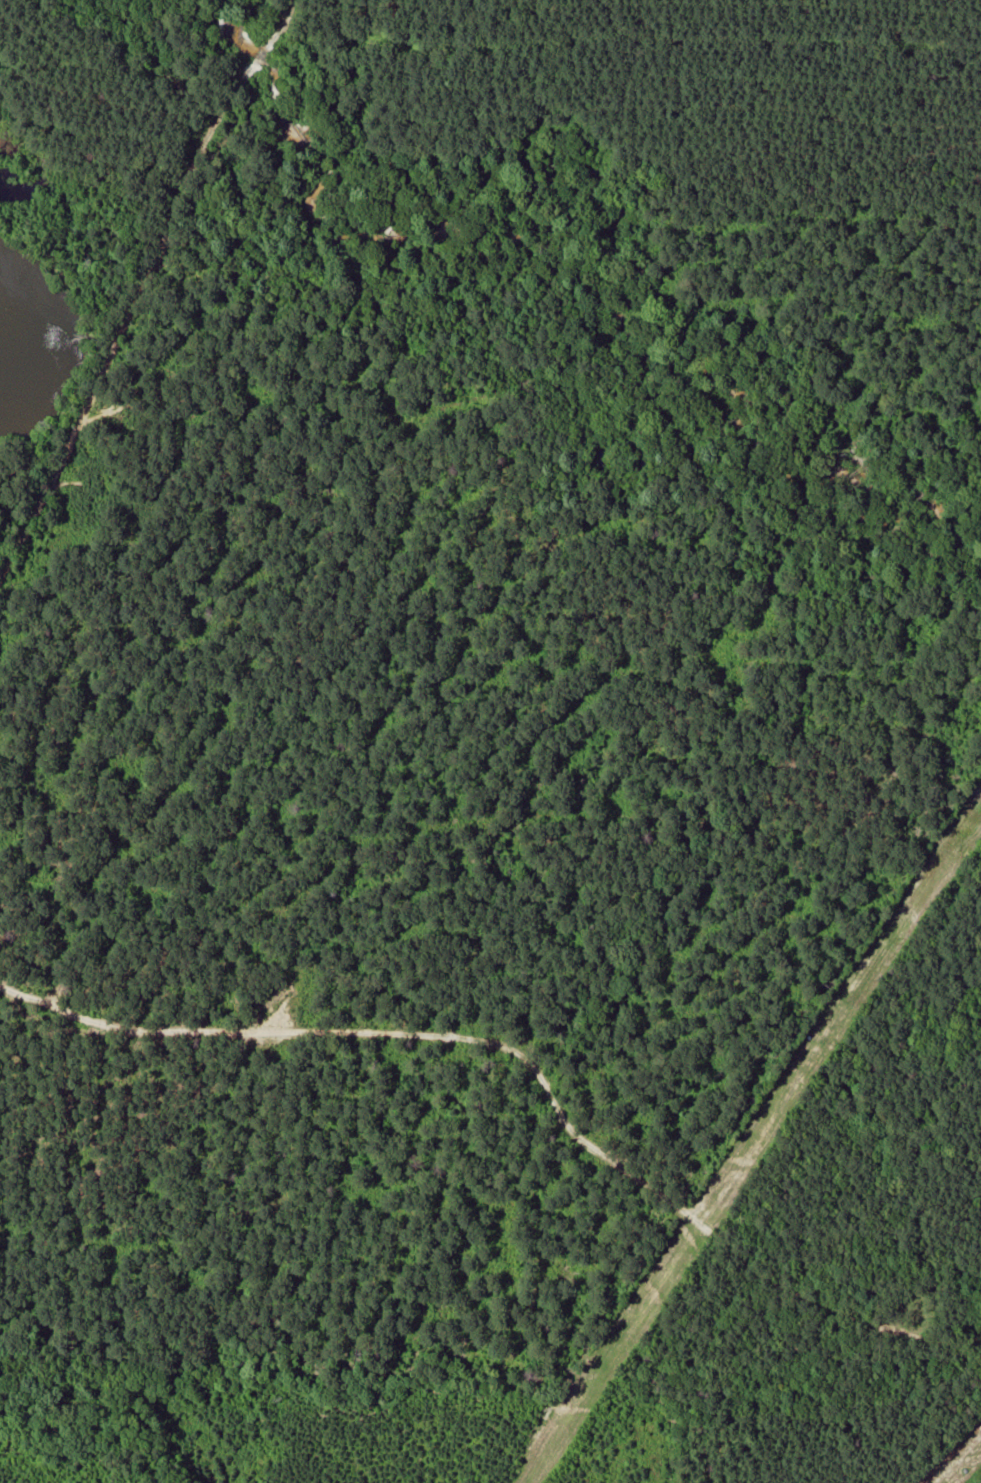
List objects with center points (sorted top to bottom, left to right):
road: (7, 518)

